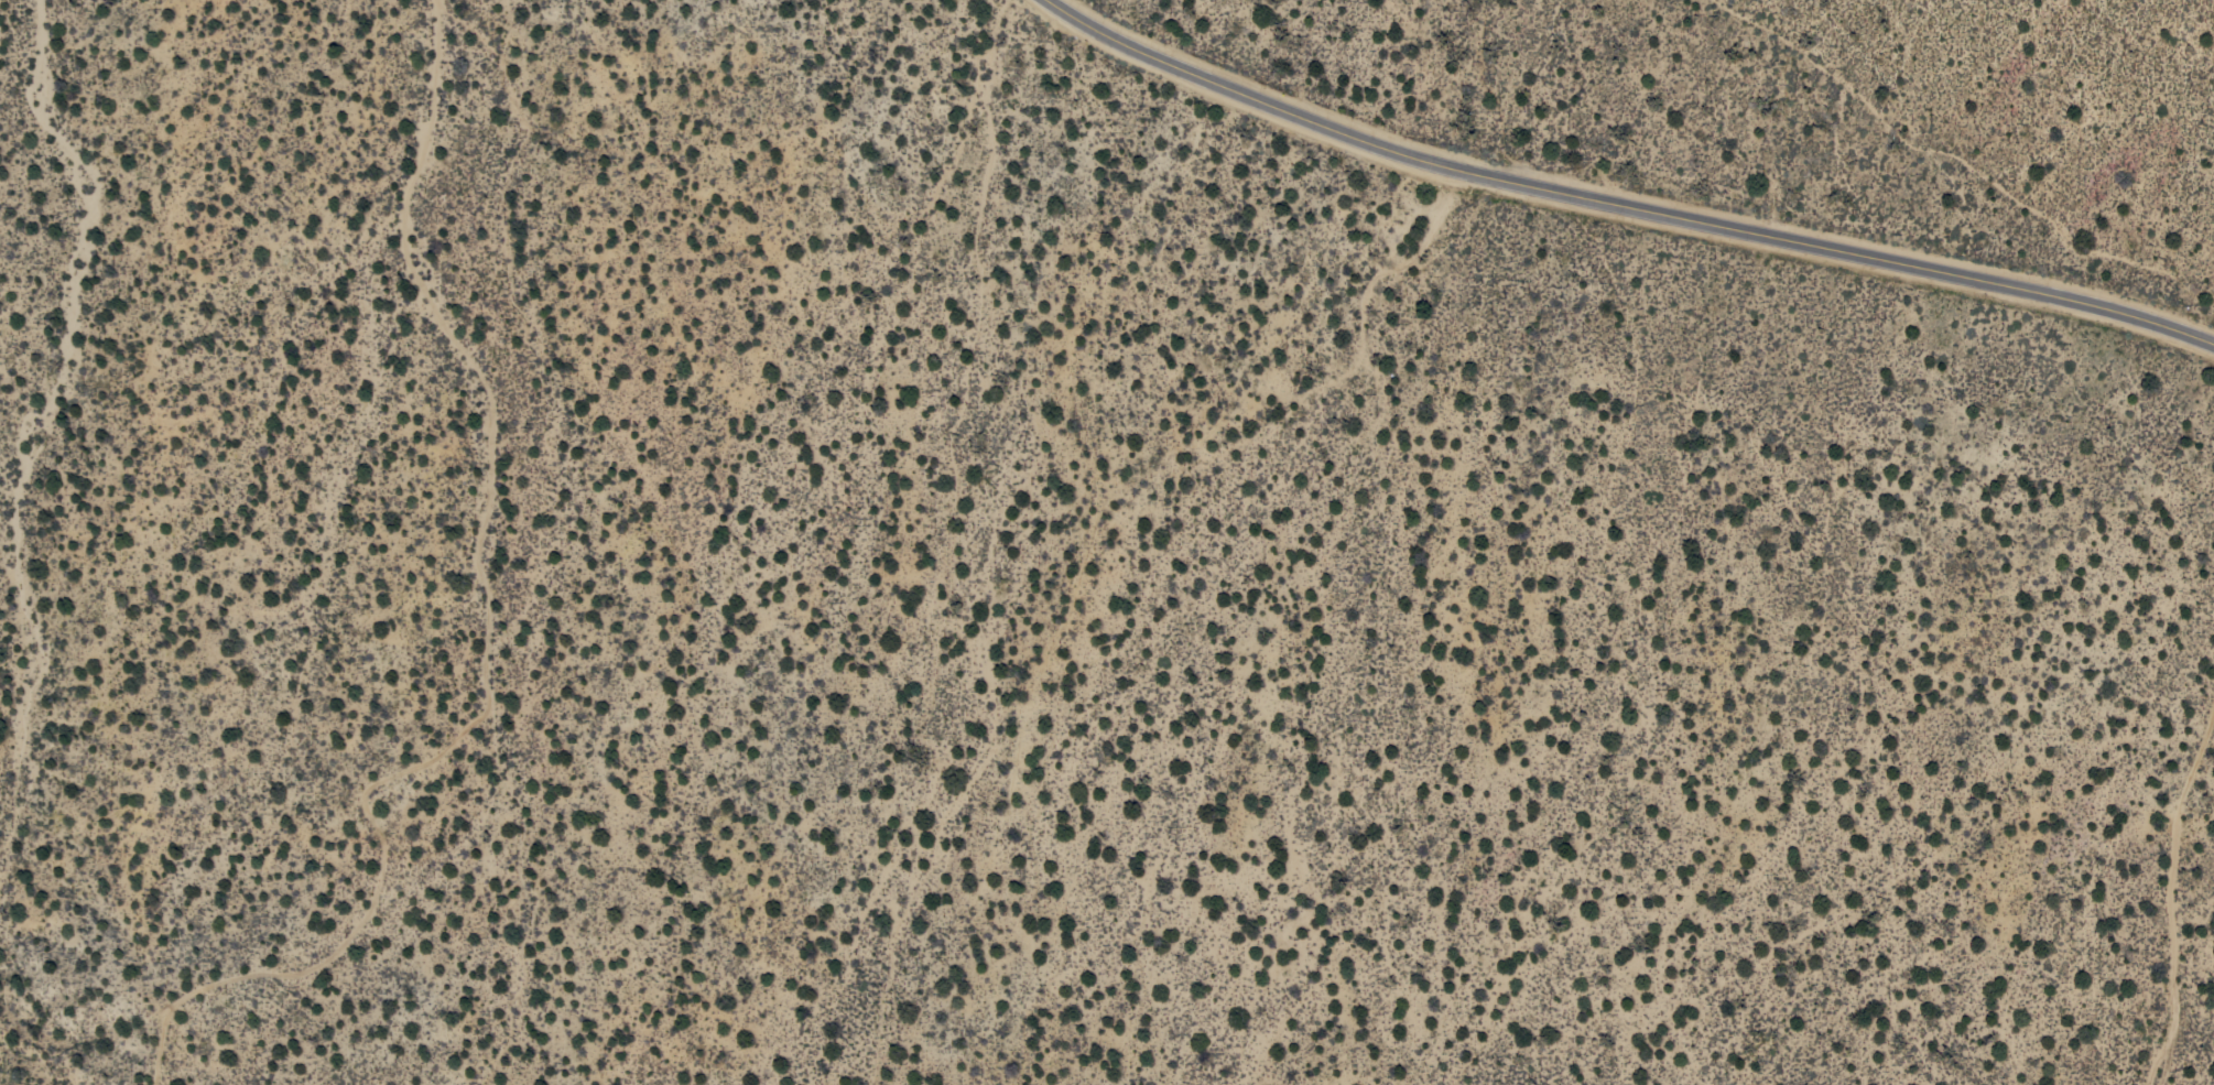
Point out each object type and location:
road: (1618, 207)

